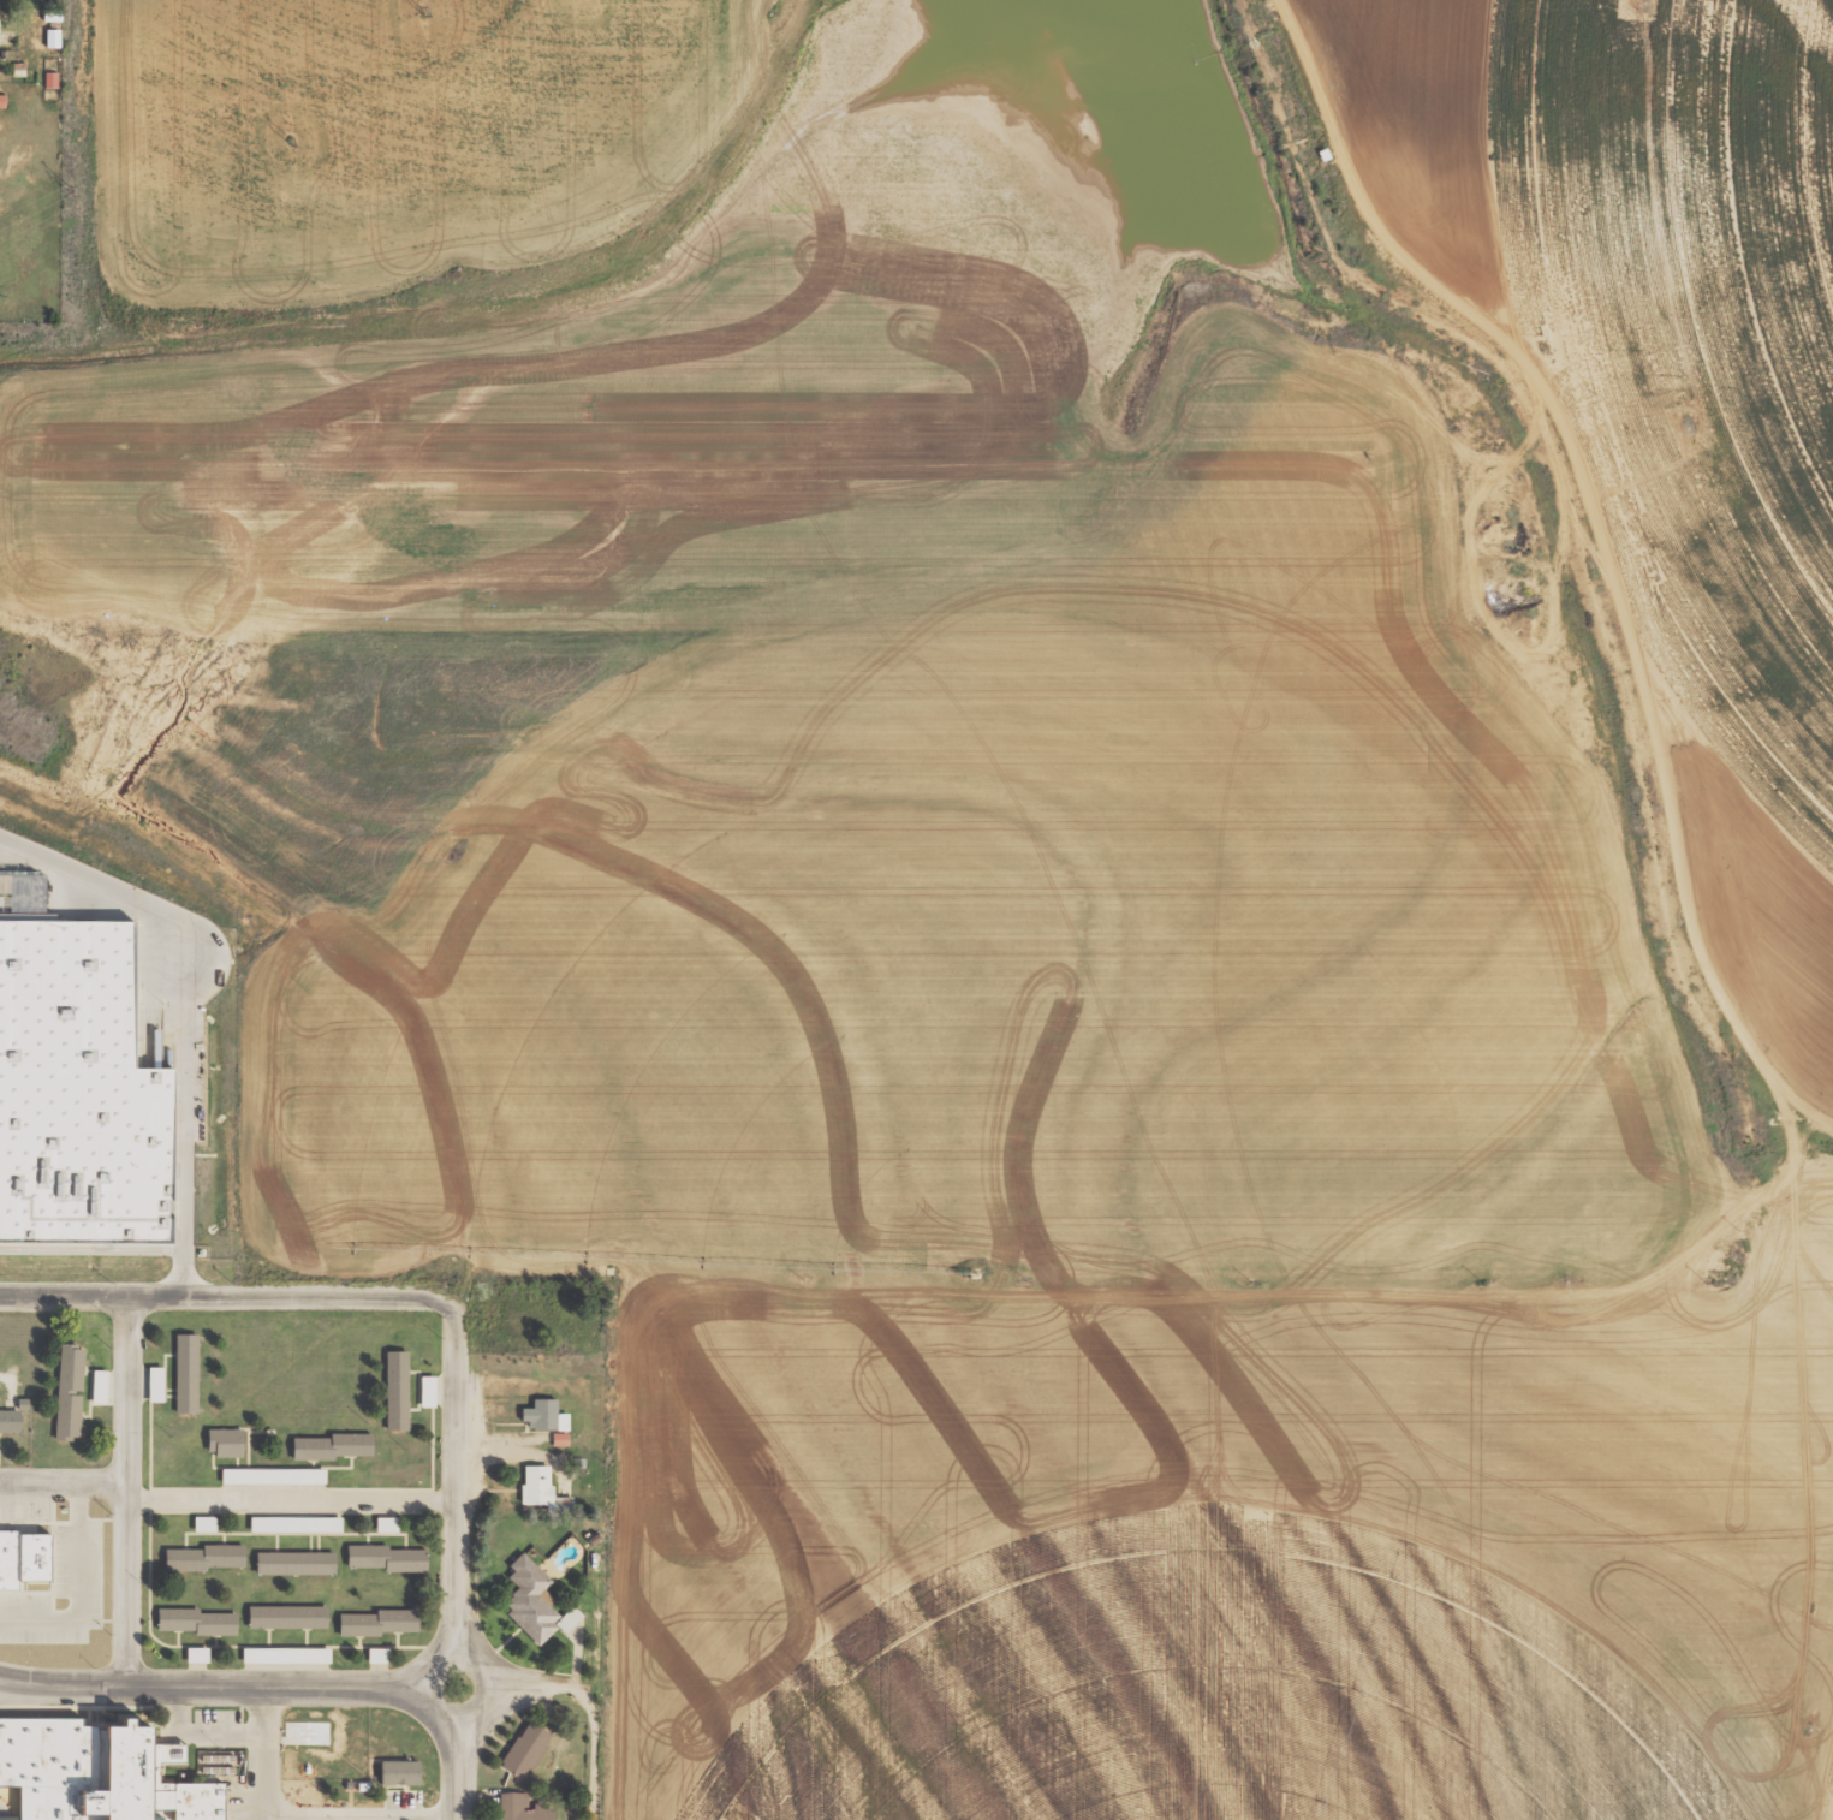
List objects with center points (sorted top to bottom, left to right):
power tower: (422, 11)
building: (50, 79)
building: (1, 101)
power tower: (288, 144)
power tower: (72, 192)
road: (181, 1017)
building: (72, 1104)
road: (226, 1296)
building: (188, 1373)
building: (153, 1384)
building: (97, 1386)
building: (397, 1391)
building: (425, 1391)
building: (70, 1392)
building: (543, 1416)
building: (11, 1421)
building: (558, 1439)
building: (226, 1443)
building: (333, 1447)
building: (270, 1475)
road: (453, 1481)
road: (63, 1483)
building: (534, 1483)
road: (125, 1491)
road: (290, 1500)
building: (202, 1523)
building: (293, 1523)
building: (385, 1523)
building: (206, 1558)
building: (388, 1559)
building: (296, 1563)
building: (19, 1568)
building: (532, 1601)
building: (288, 1617)
building: (197, 1622)
building: (379, 1623)
building: (195, 1654)
building: (286, 1655)
building: (376, 1655)
road: (213, 1687)
road: (427, 1687)
road: (526, 1689)
helipad: (302, 1736)
building: (524, 1750)
road: (591, 1750)
road: (457, 1767)
building: (394, 1778)
building: (90, 1780)
building: (520, 1808)

